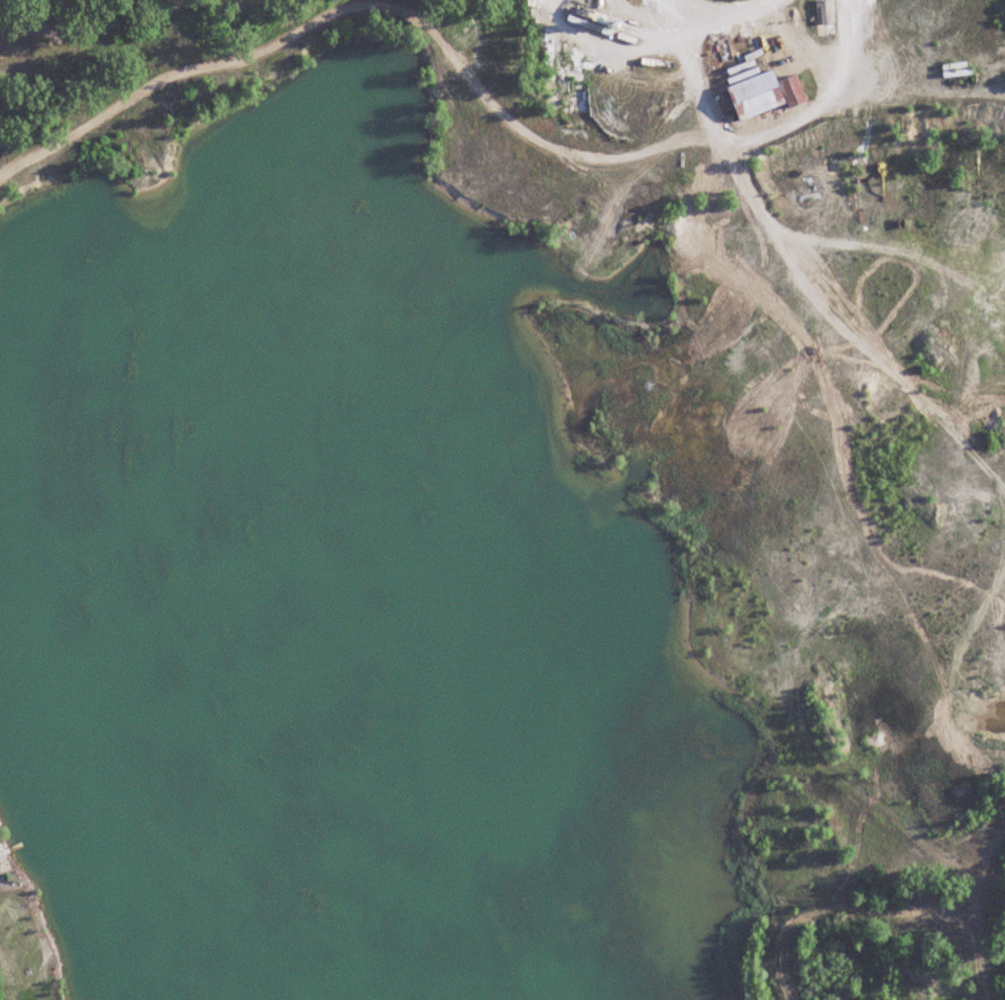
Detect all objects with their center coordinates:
building: (820, 11)
road: (452, 54)
building: (765, 95)
road: (791, 260)
building: (614, 495)

